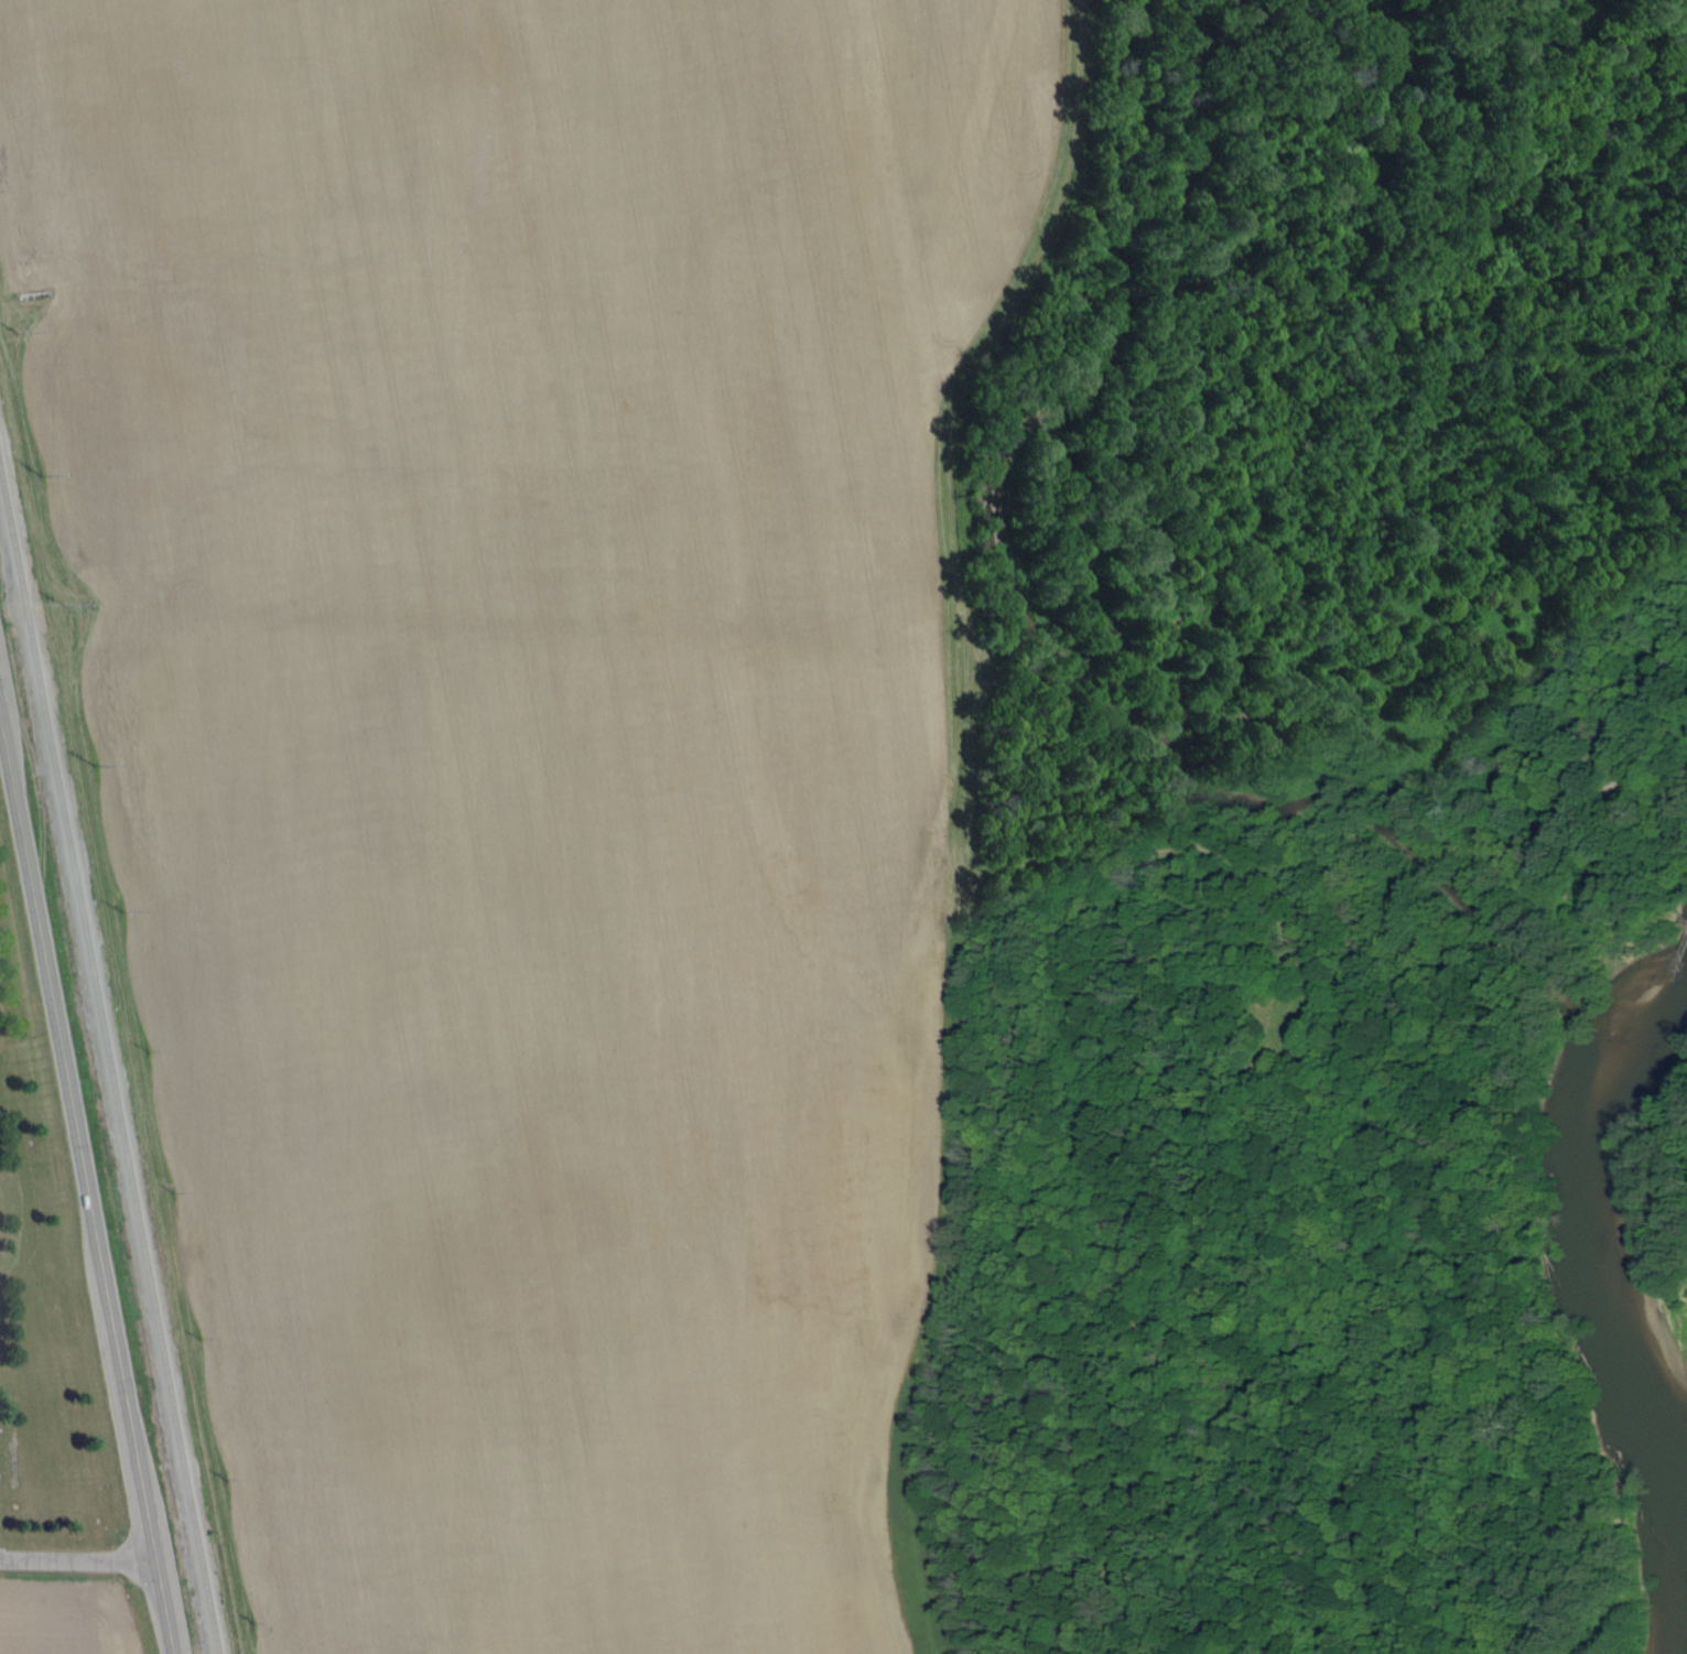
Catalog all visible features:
railway: (107, 1068)
river: (1570, 1177)
road: (88, 1181)
road: (78, 1564)
river: (1673, 1615)

